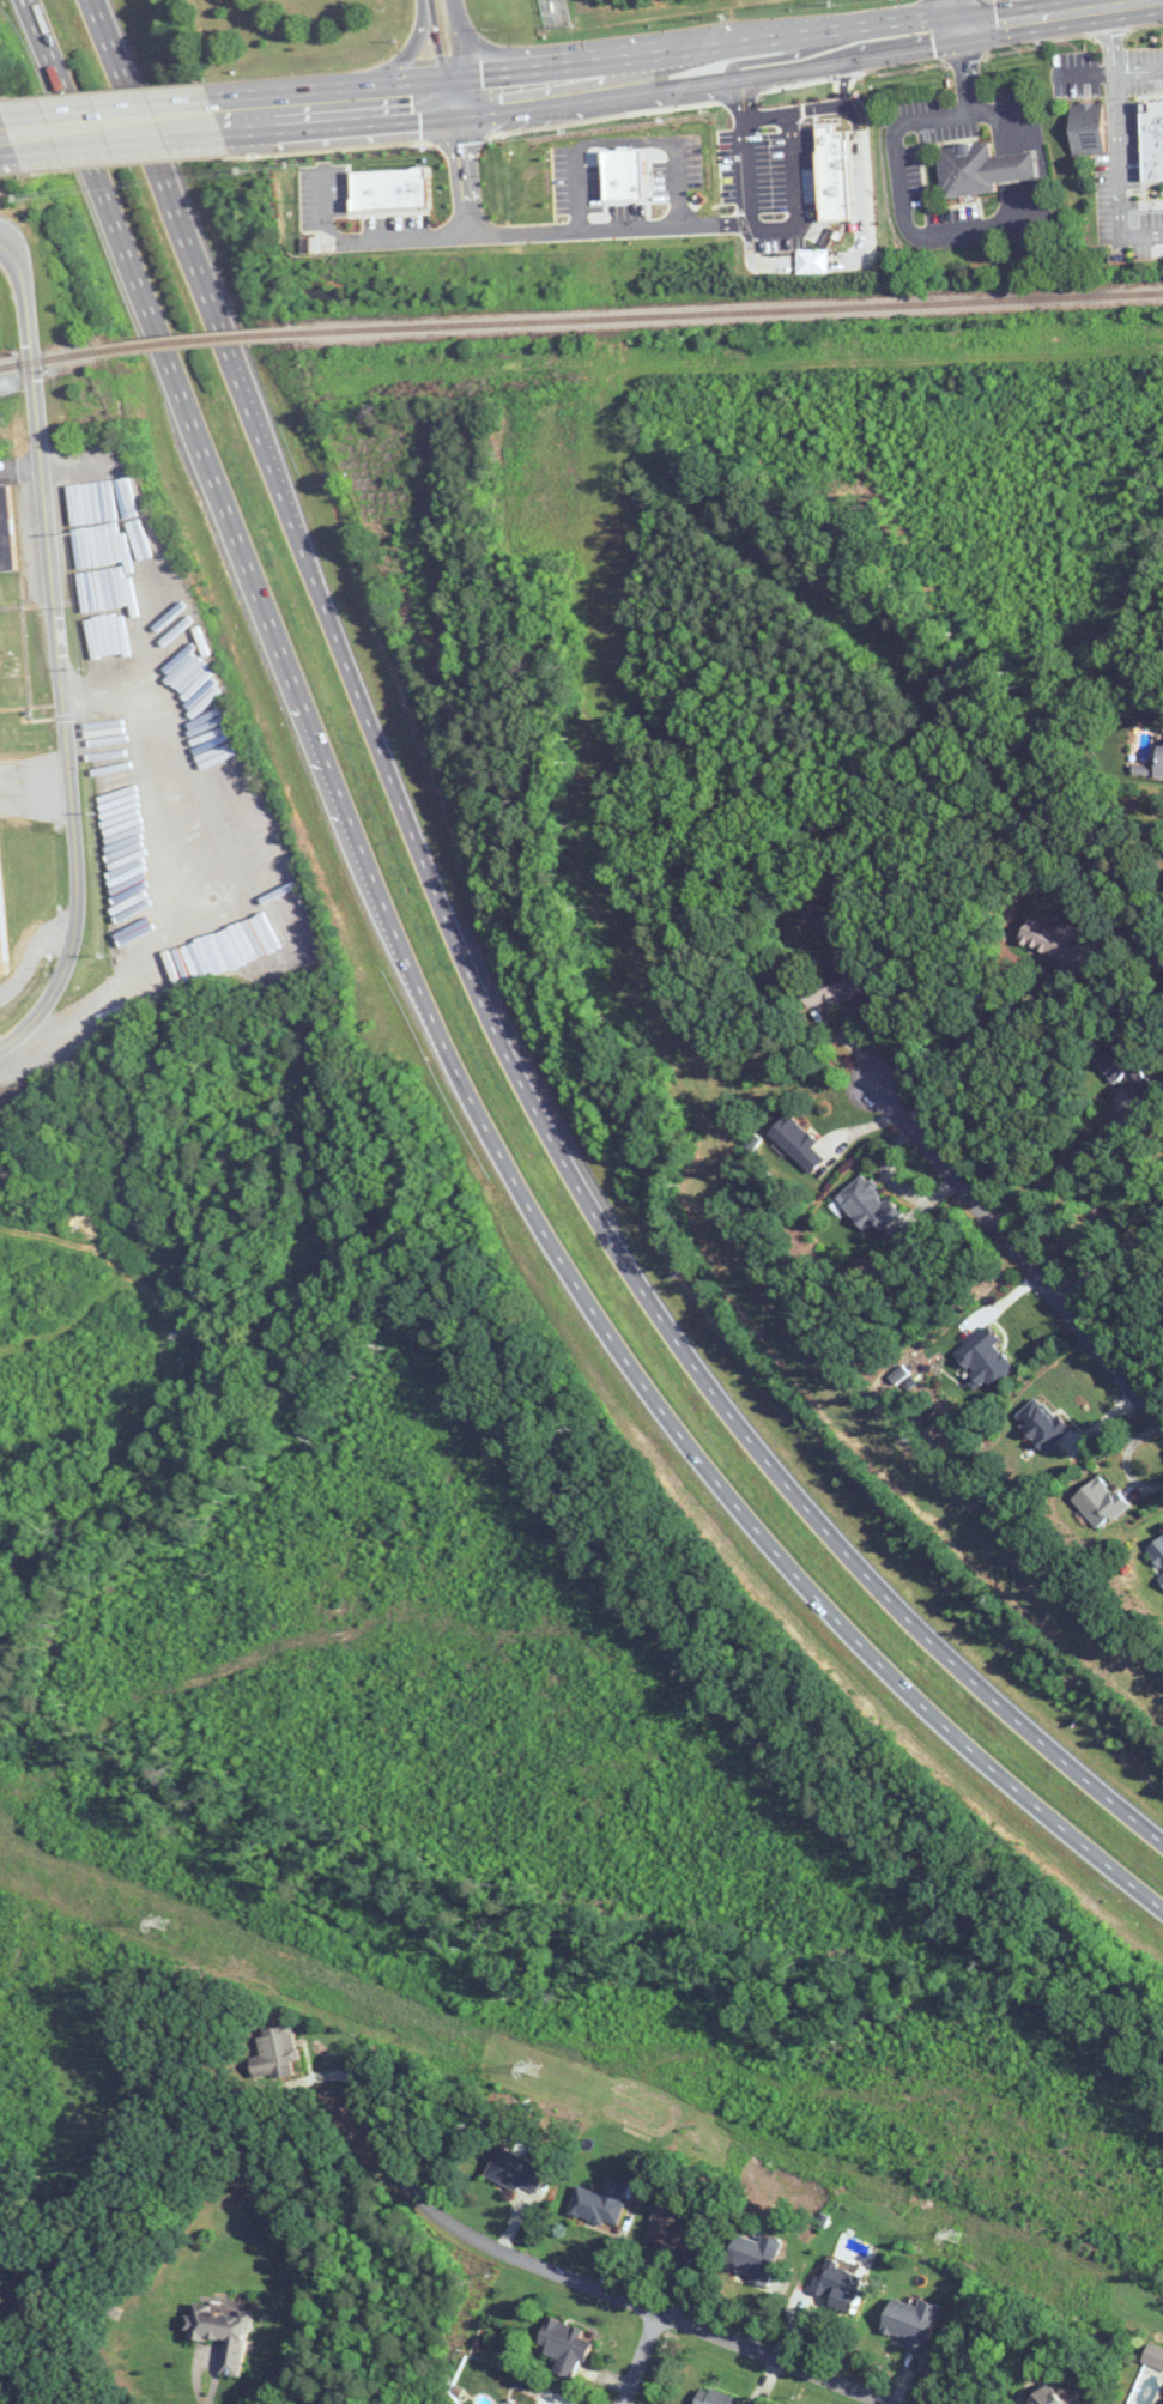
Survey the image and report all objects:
road: (95, 4)
road: (959, 14)
road: (30, 25)
traffic signals: (963, 29)
road: (1110, 38)
road: (471, 48)
road: (436, 50)
road: (392, 67)
road: (690, 67)
road: (1138, 68)
road: (967, 69)
road: (1085, 72)
road: (846, 79)
traffic signals: (444, 101)
building: (1085, 127)
road: (116, 129)
road: (6, 138)
building: (1151, 140)
building: (967, 169)
road: (1117, 172)
building: (165, 176)
building: (97, 182)
building: (390, 193)
road: (624, 228)
road: (949, 232)
road: (368, 241)
railway: (726, 313)
railway: (190, 340)
railway: (46, 361)
building: (8, 533)
road: (87, 575)
road: (59, 654)
building: (1159, 763)
road: (192, 894)
building: (287, 902)
building: (5, 915)
building: (1047, 937)
building: (834, 988)
road: (485, 1007)
road: (980, 1025)
road: (448, 1048)
building: (1125, 1068)
building: (796, 1142)
road: (1064, 1165)
building: (867, 1203)
road: (1016, 1257)
road: (1109, 1258)
building: (986, 1360)
building: (1041, 1424)
building: (1097, 1502)
building: (1157, 1550)
building: (1161, 1579)
power tower: (157, 1922)
building: (277, 2054)
power tower: (529, 2067)
building: (519, 2168)
building: (600, 2203)
building: (672, 2232)
power tower: (952, 2235)
building: (753, 2258)
road: (567, 2278)
building: (836, 2284)
building: (909, 2321)
building: (220, 2333)
building: (564, 2347)
building: (1153, 2356)
road: (640, 2358)
road: (206, 2366)
building: (713, 2398)

